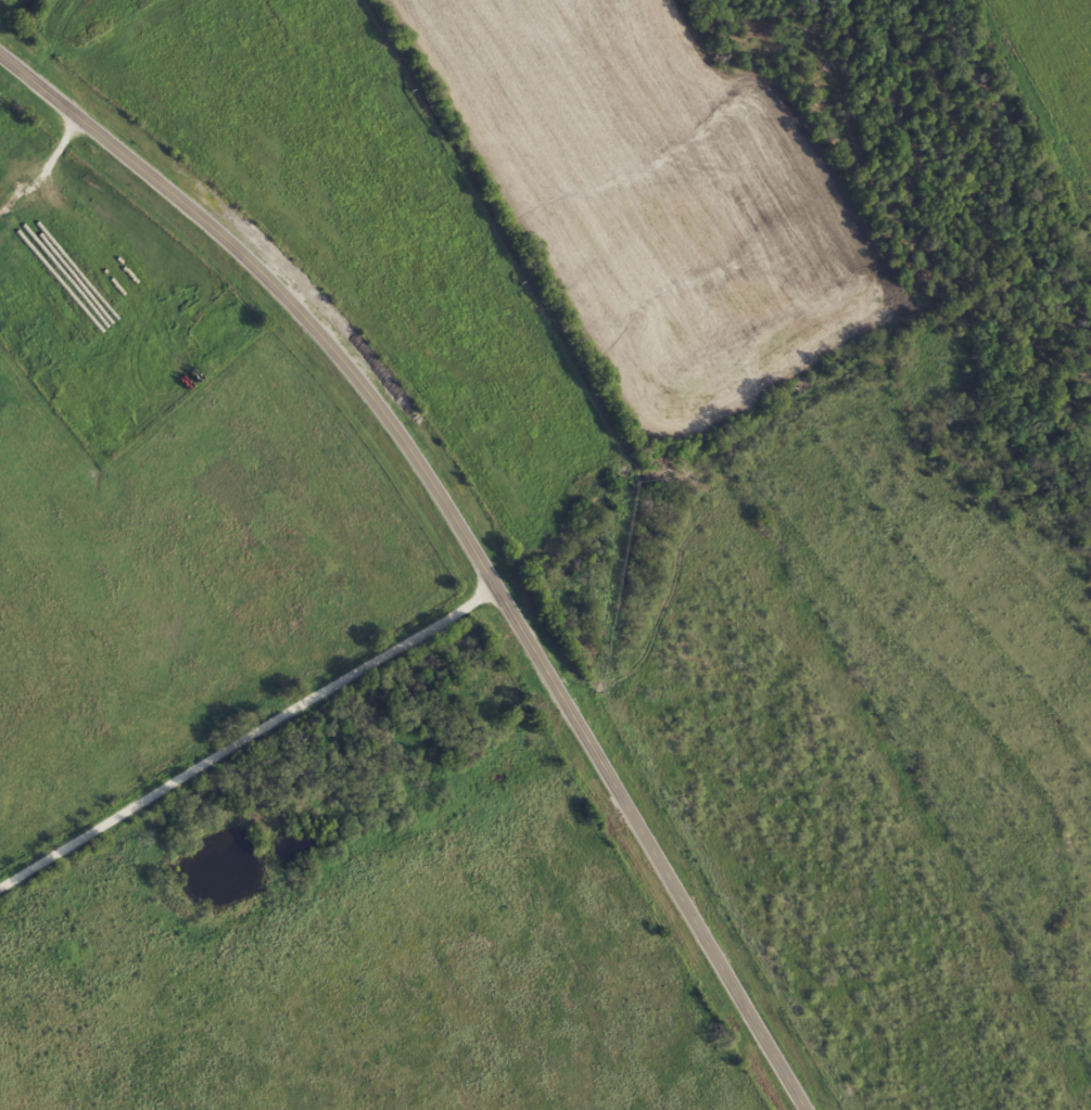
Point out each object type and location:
road: (461, 533)
road: (250, 739)

